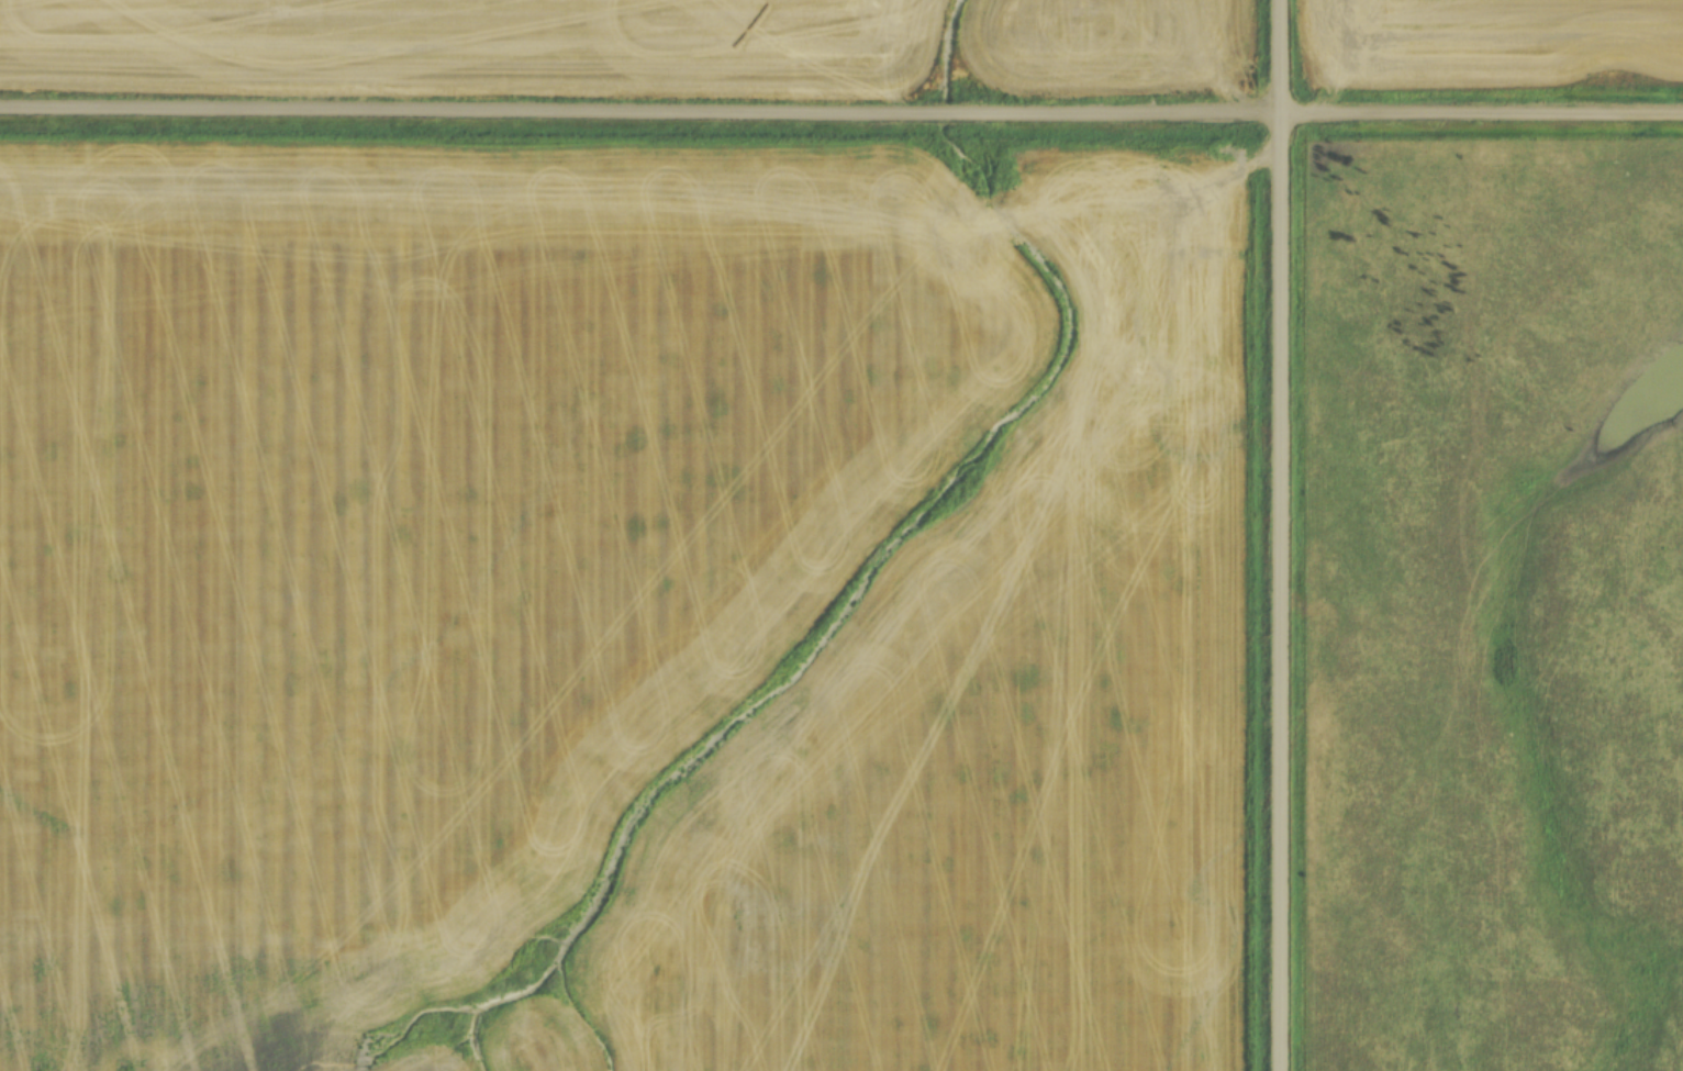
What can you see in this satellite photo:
road: (840, 112)
road: (1273, 535)

